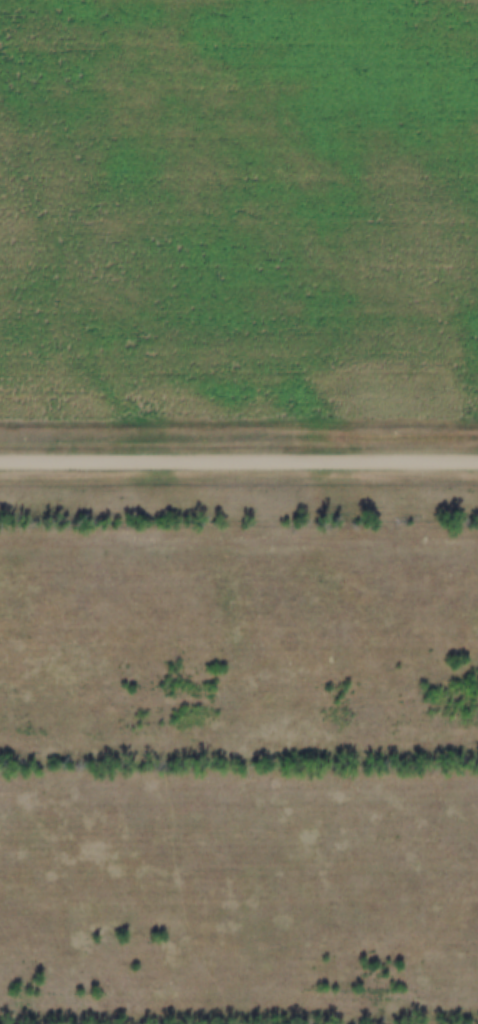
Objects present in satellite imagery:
road: (239, 464)

